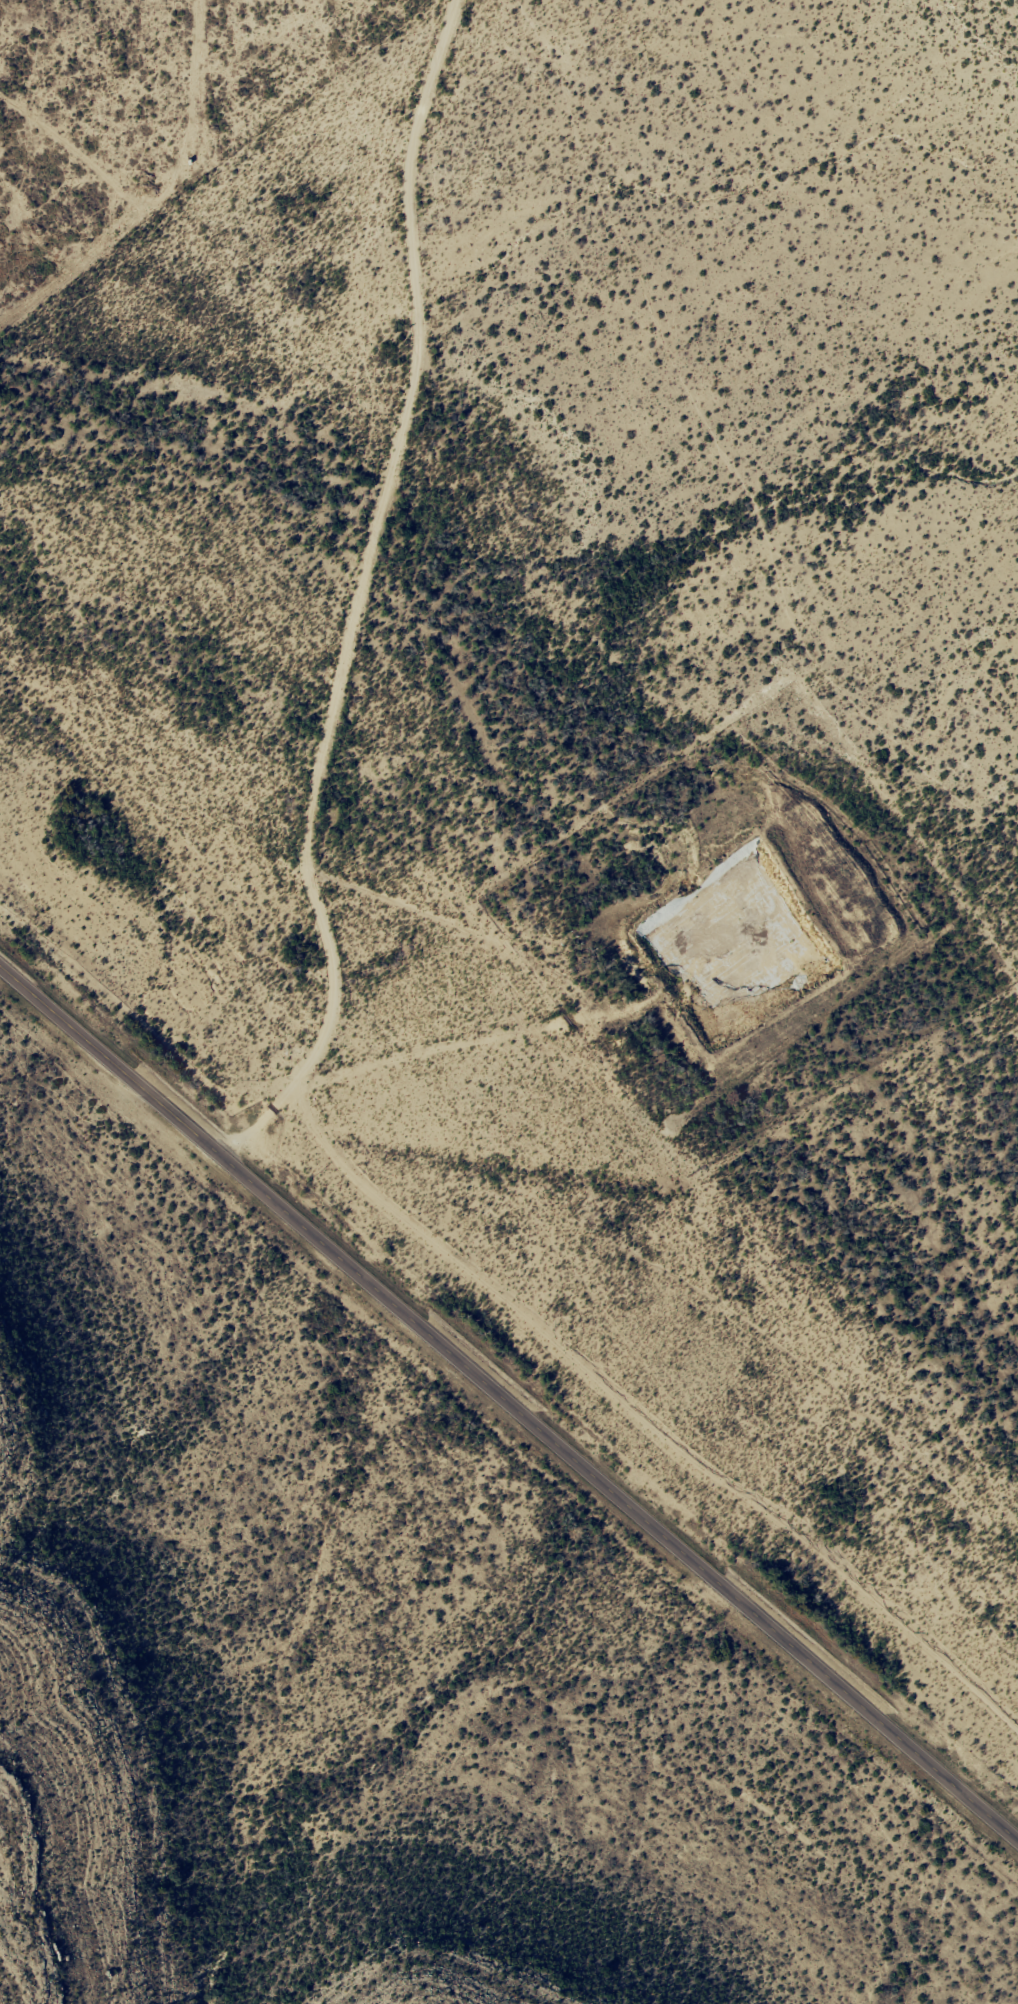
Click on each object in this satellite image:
road: (358, 606)
road: (509, 1400)

